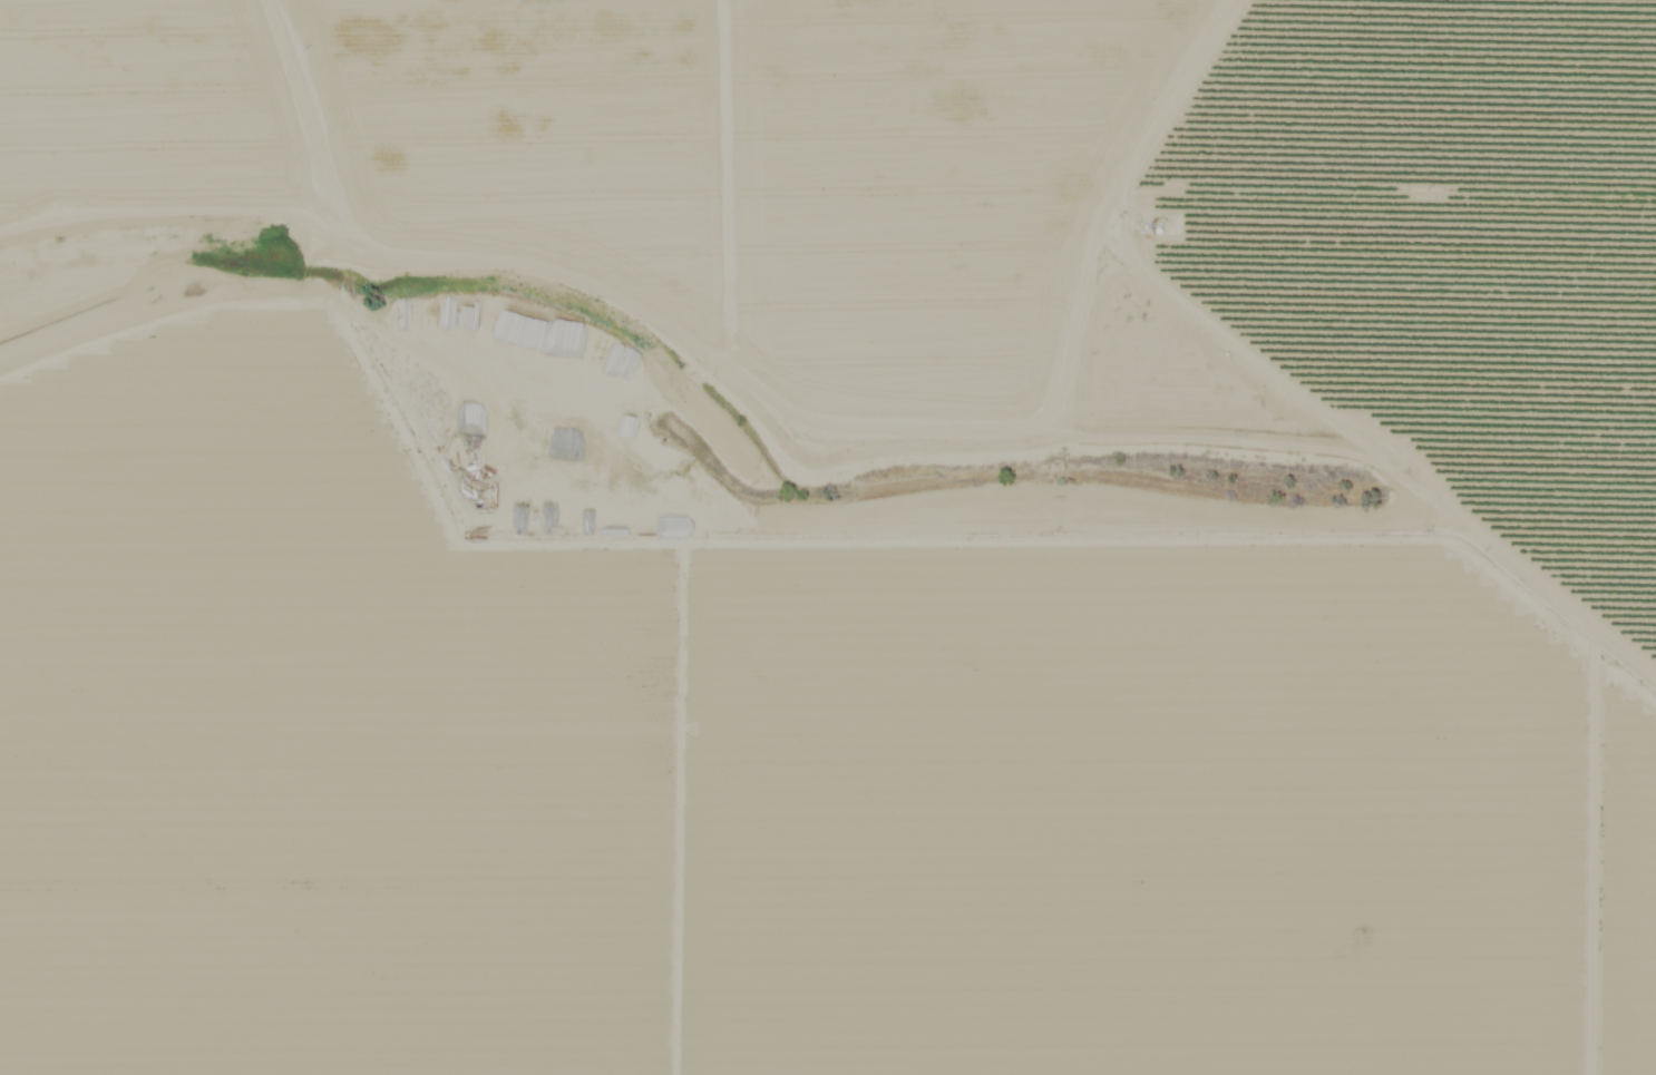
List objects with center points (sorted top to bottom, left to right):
crop: (574, 111)
road: (325, 120)
building: (504, 325)
road: (749, 382)
road: (1401, 447)
crop: (768, 677)

